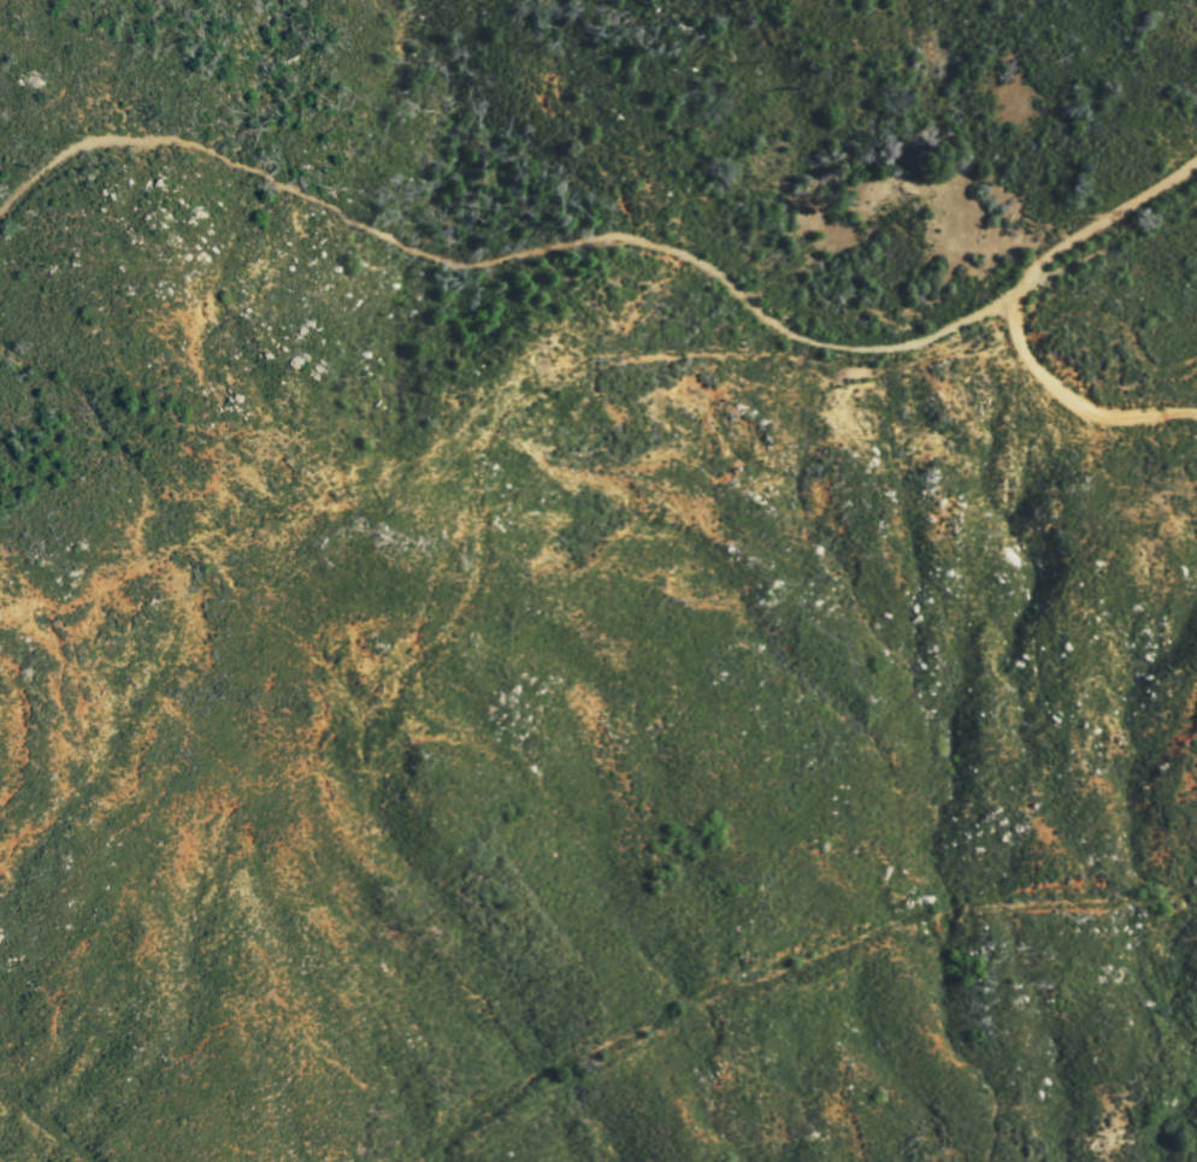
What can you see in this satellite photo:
road: (972, 134)
road: (1095, 225)
road: (502, 270)
road: (1078, 405)

